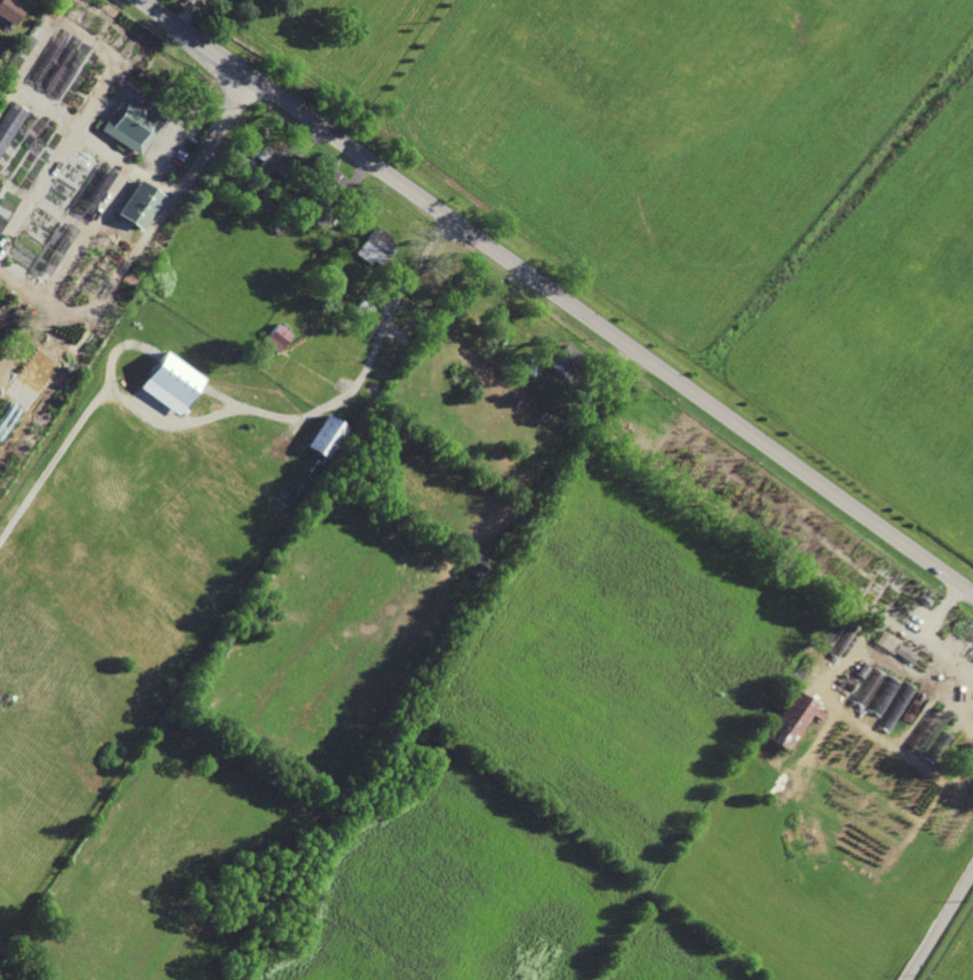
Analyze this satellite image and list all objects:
building: (11, 10)
road: (188, 15)
building: (132, 123)
building: (9, 124)
building: (270, 159)
road: (154, 182)
building: (328, 183)
building: (266, 187)
building: (234, 190)
building: (96, 192)
building: (141, 204)
building: (324, 219)
building: (375, 247)
building: (57, 252)
building: (448, 255)
building: (360, 274)
road: (556, 294)
building: (352, 296)
building: (362, 309)
building: (277, 339)
building: (362, 340)
building: (566, 362)
building: (170, 382)
building: (641, 399)
building: (582, 405)
building: (650, 406)
building: (658, 413)
building: (325, 435)
building: (478, 565)
building: (836, 630)
building: (885, 640)
building: (902, 652)
building: (859, 669)
building: (846, 683)
building: (881, 696)
building: (791, 719)
road: (940, 926)

